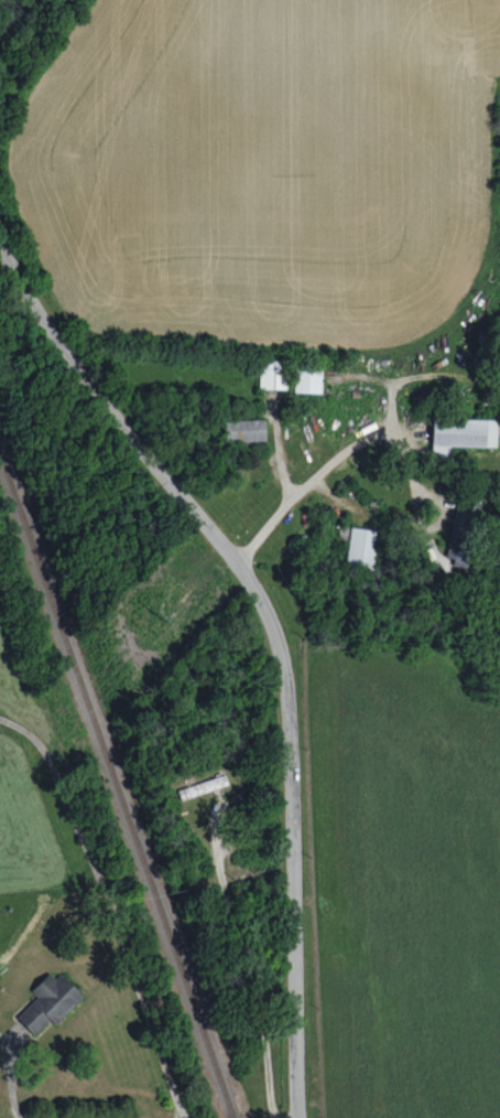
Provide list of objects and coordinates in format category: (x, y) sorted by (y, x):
building: (272, 375)
building: (307, 379)
building: (244, 429)
building: (460, 434)
road: (306, 482)
building: (461, 531)
building: (361, 546)
road: (279, 636)
railway: (117, 782)
building: (202, 786)
road: (108, 909)
building: (48, 1002)

